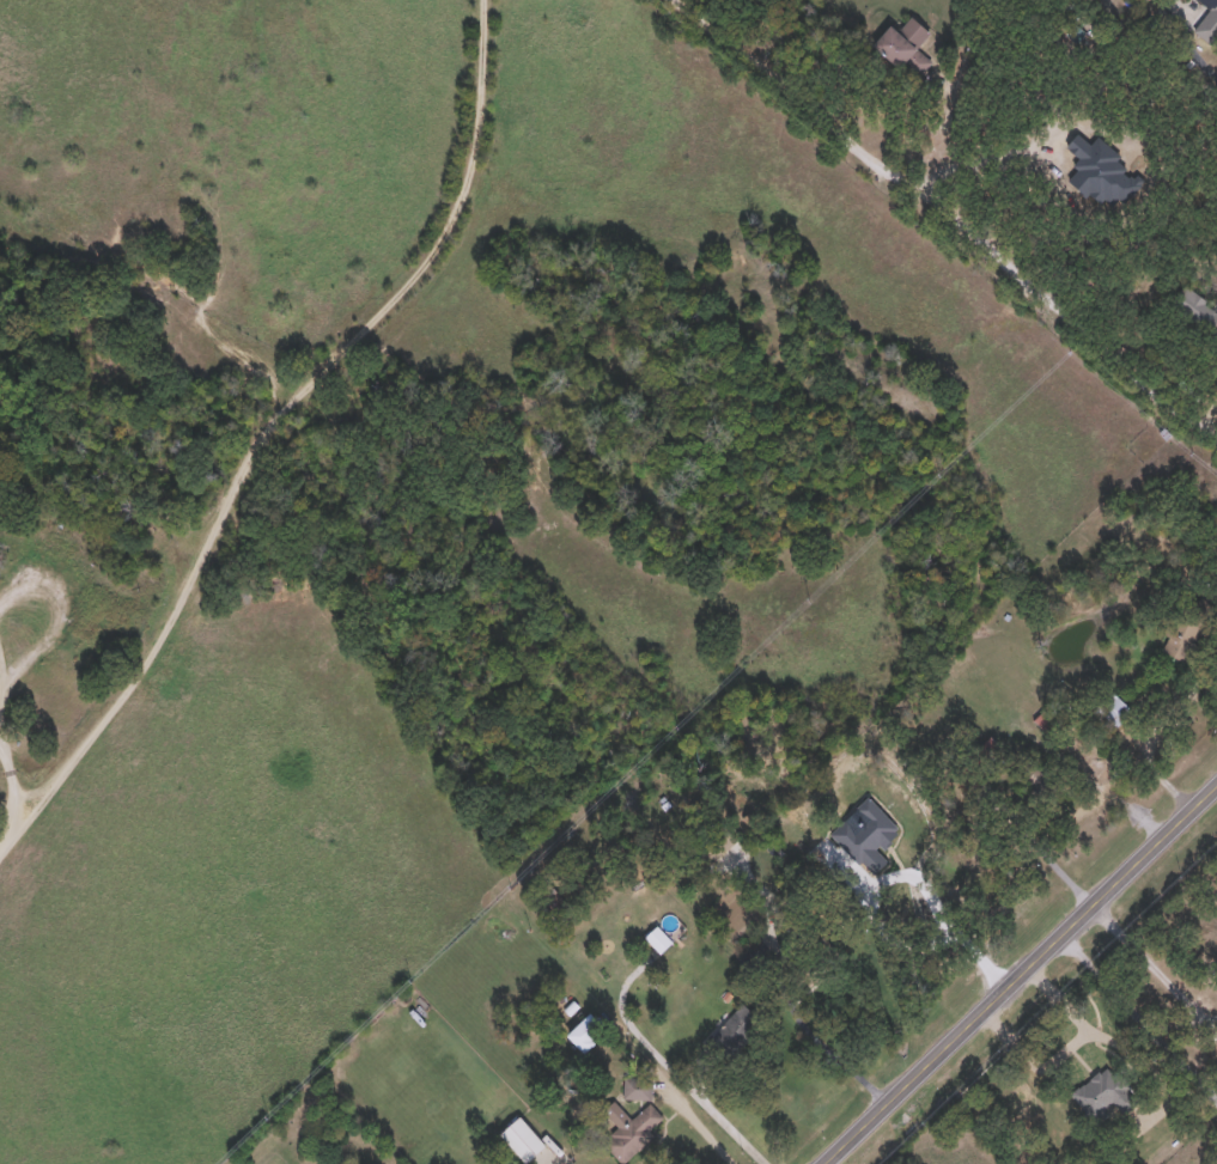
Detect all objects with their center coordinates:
building: (1209, 23)
building: (907, 44)
road: (985, 162)
road: (255, 212)
road: (945, 218)
road: (444, 232)
road: (244, 285)
road: (1215, 587)
road: (68, 592)
building: (1185, 629)
road: (157, 636)
road: (4, 662)
road: (4, 684)
building: (1113, 706)
building: (1046, 718)
road: (1, 732)
road: (1151, 736)
building: (987, 745)
road: (14, 779)
road: (1102, 800)
building: (716, 843)
road: (1045, 852)
road: (959, 932)
building: (658, 938)
road: (1154, 965)
road: (1021, 977)
road: (1142, 1014)
road: (1189, 1017)
building: (586, 1031)
road: (814, 1036)
road: (673, 1066)
building: (638, 1086)
building: (1105, 1091)
road: (708, 1125)
building: (629, 1128)
building: (523, 1138)
road: (576, 1158)

